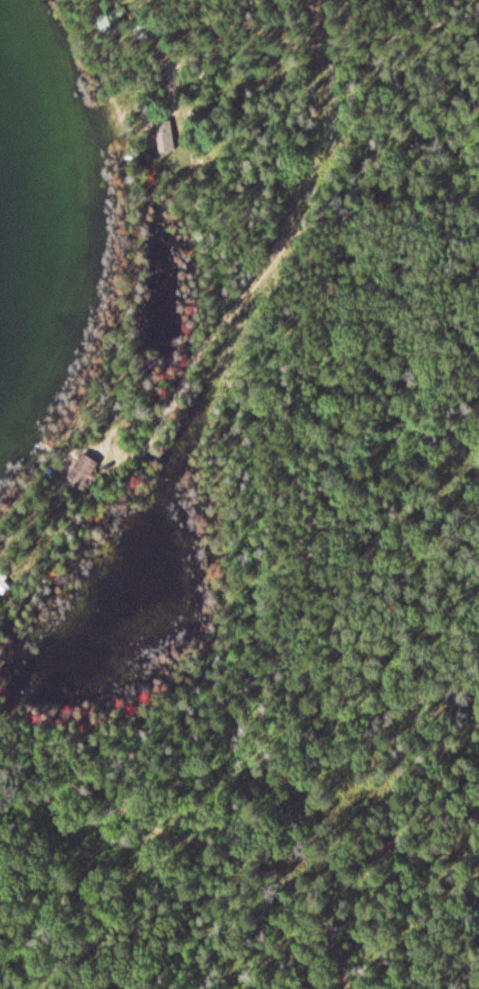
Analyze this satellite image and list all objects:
road: (328, 38)
building: (161, 133)
building: (82, 473)
building: (3, 588)
road: (162, 894)

